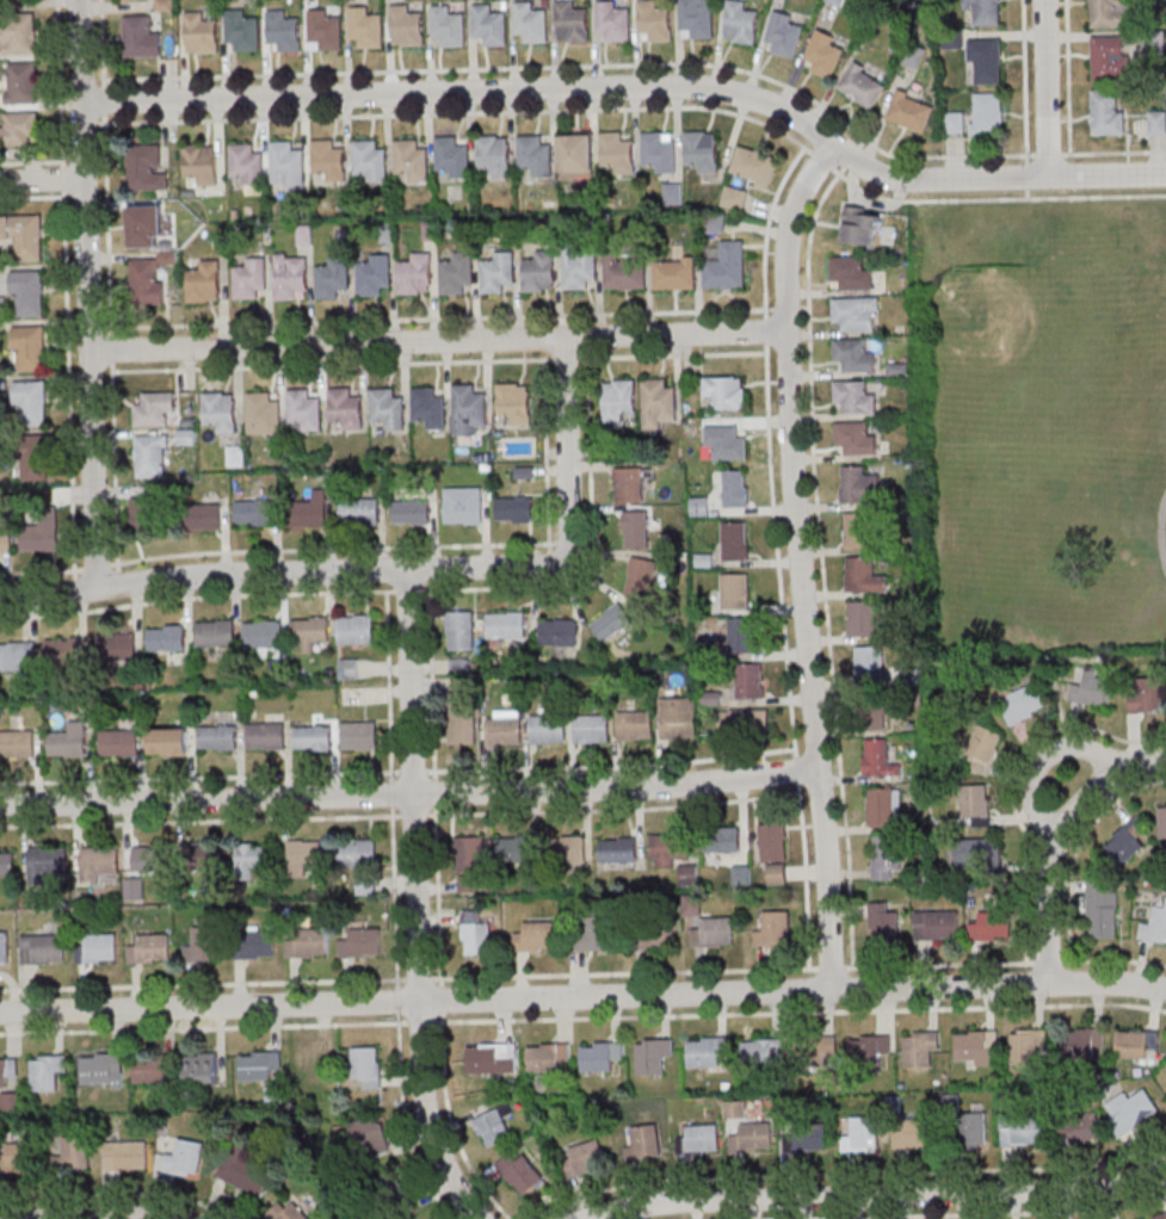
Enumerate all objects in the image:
building: (8, 0)
building: (125, 0)
building: (987, 12)
building: (1106, 13)
building: (696, 19)
building: (570, 21)
building: (612, 21)
building: (654, 21)
building: (740, 23)
building: (489, 24)
building: (530, 24)
building: (406, 26)
building: (448, 26)
building: (366, 30)
building: (241, 32)
building: (283, 32)
building: (323, 32)
building: (17, 35)
building: (199, 36)
building: (783, 37)
building: (141, 38)
building: (822, 55)
building: (987, 58)
building: (1110, 58)
road: (581, 66)
road: (1067, 76)
road: (1025, 80)
building: (20, 85)
building: (862, 86)
road: (637, 88)
road: (1048, 88)
building: (911, 111)
building: (1108, 111)
building: (987, 113)
building: (1156, 122)
building: (954, 123)
building: (19, 130)
building: (660, 150)
building: (702, 150)
building: (616, 153)
road: (1113, 153)
building: (575, 155)
building: (494, 156)
building: (533, 157)
building: (451, 159)
building: (328, 162)
building: (369, 162)
building: (411, 162)
building: (200, 165)
building: (753, 165)
building: (245, 166)
building: (286, 166)
building: (144, 169)
road: (44, 180)
building: (673, 192)
building: (144, 227)
building: (860, 228)
building: (23, 236)
building: (579, 267)
building: (623, 271)
building: (456, 272)
building: (498, 272)
building: (538, 273)
building: (674, 274)
building: (723, 274)
building: (850, 274)
building: (374, 277)
building: (414, 278)
building: (290, 279)
building: (332, 279)
building: (249, 280)
building: (146, 281)
building: (204, 283)
road: (109, 285)
road: (92, 292)
building: (27, 293)
road: (66, 293)
park: (997, 328)
road: (443, 339)
building: (29, 349)
building: (855, 355)
road: (438, 361)
building: (724, 391)
building: (853, 397)
building: (618, 400)
building: (514, 402)
building: (658, 402)
building: (31, 404)
building: (428, 407)
building: (154, 409)
building: (387, 409)
building: (468, 409)
building: (221, 410)
building: (345, 410)
building: (303, 413)
building: (263, 414)
building: (186, 437)
building: (855, 438)
building: (726, 441)
building: (150, 456)
building: (32, 457)
road: (545, 462)
building: (628, 485)
building: (858, 485)
building: (735, 488)
building: (463, 505)
building: (699, 506)
building: (513, 509)
building: (310, 511)
building: (358, 511)
building: (411, 512)
building: (146, 513)
building: (254, 513)
building: (204, 516)
building: (636, 530)
building: (856, 530)
road: (1161, 530)
building: (41, 536)
building: (5, 539)
building: (735, 542)
road: (566, 543)
road: (334, 546)
road: (801, 559)
road: (97, 567)
road: (396, 569)
road: (41, 570)
building: (864, 575)
road: (117, 577)
building: (641, 577)
building: (735, 590)
building: (863, 619)
building: (611, 623)
building: (505, 627)
building: (354, 630)
building: (459, 631)
building: (308, 632)
building: (560, 633)
building: (214, 635)
building: (263, 635)
building: (741, 635)
building: (165, 639)
building: (116, 648)
building: (62, 654)
building: (17, 657)
building: (869, 663)
building: (348, 668)
building: (749, 680)
building: (1093, 689)
building: (1146, 694)
building: (1023, 705)
building: (876, 716)
building: (678, 718)
building: (745, 722)
building: (462, 724)
building: (634, 726)
building: (547, 729)
building: (591, 729)
building: (502, 731)
building: (265, 735)
building: (358, 735)
building: (311, 736)
building: (217, 737)
building: (68, 742)
building: (168, 742)
building: (16, 744)
building: (117, 744)
building: (983, 749)
building: (878, 759)
road: (1039, 763)
road: (409, 793)
building: (974, 805)
building: (883, 806)
building: (1162, 819)
road: (1060, 837)
building: (722, 840)
building: (773, 842)
building: (1125, 843)
building: (668, 849)
building: (570, 850)
building: (617, 850)
building: (514, 852)
building: (975, 853)
building: (356, 854)
building: (205, 856)
building: (469, 856)
building: (886, 856)
building: (254, 858)
building: (304, 858)
building: (152, 860)
building: (48, 862)
building: (6, 864)
building: (99, 864)
building: (686, 875)
building: (777, 875)
road: (417, 902)
building: (1102, 909)
building: (883, 922)
building: (992, 924)
building: (936, 926)
building: (1154, 926)
building: (773, 929)
building: (714, 932)
building: (594, 934)
building: (475, 935)
building: (652, 936)
building: (535, 938)
building: (306, 942)
building: (360, 942)
building: (254, 943)
building: (204, 947)
building: (4, 949)
building: (42, 949)
building: (97, 949)
building: (149, 949)
road: (582, 994)
building: (1084, 1042)
building: (1136, 1045)
building: (976, 1047)
building: (870, 1048)
building: (1028, 1048)
building: (818, 1050)
building: (920, 1050)
building: (707, 1051)
building: (761, 1052)
building: (653, 1054)
building: (600, 1056)
building: (547, 1057)
building: (491, 1058)
building: (259, 1065)
building: (365, 1066)
building: (105, 1068)
building: (310, 1068)
building: (202, 1069)
building: (153, 1070)
building: (7, 1071)
building: (48, 1072)
building: (1133, 1113)
building: (494, 1126)
building: (973, 1128)
building: (1081, 1130)
building: (1022, 1131)
building: (862, 1136)
building: (914, 1136)
building: (752, 1138)
building: (808, 1138)
building: (368, 1139)
building: (699, 1139)
building: (644, 1144)
building: (74, 1152)
building: (125, 1157)
building: (16, 1158)
building: (584, 1158)
building: (184, 1159)
building: (520, 1171)
building: (245, 1175)
building: (399, 1189)
road: (876, 1196)
building: (289, 1213)
road: (87, 1217)
building: (1161, 1217)

